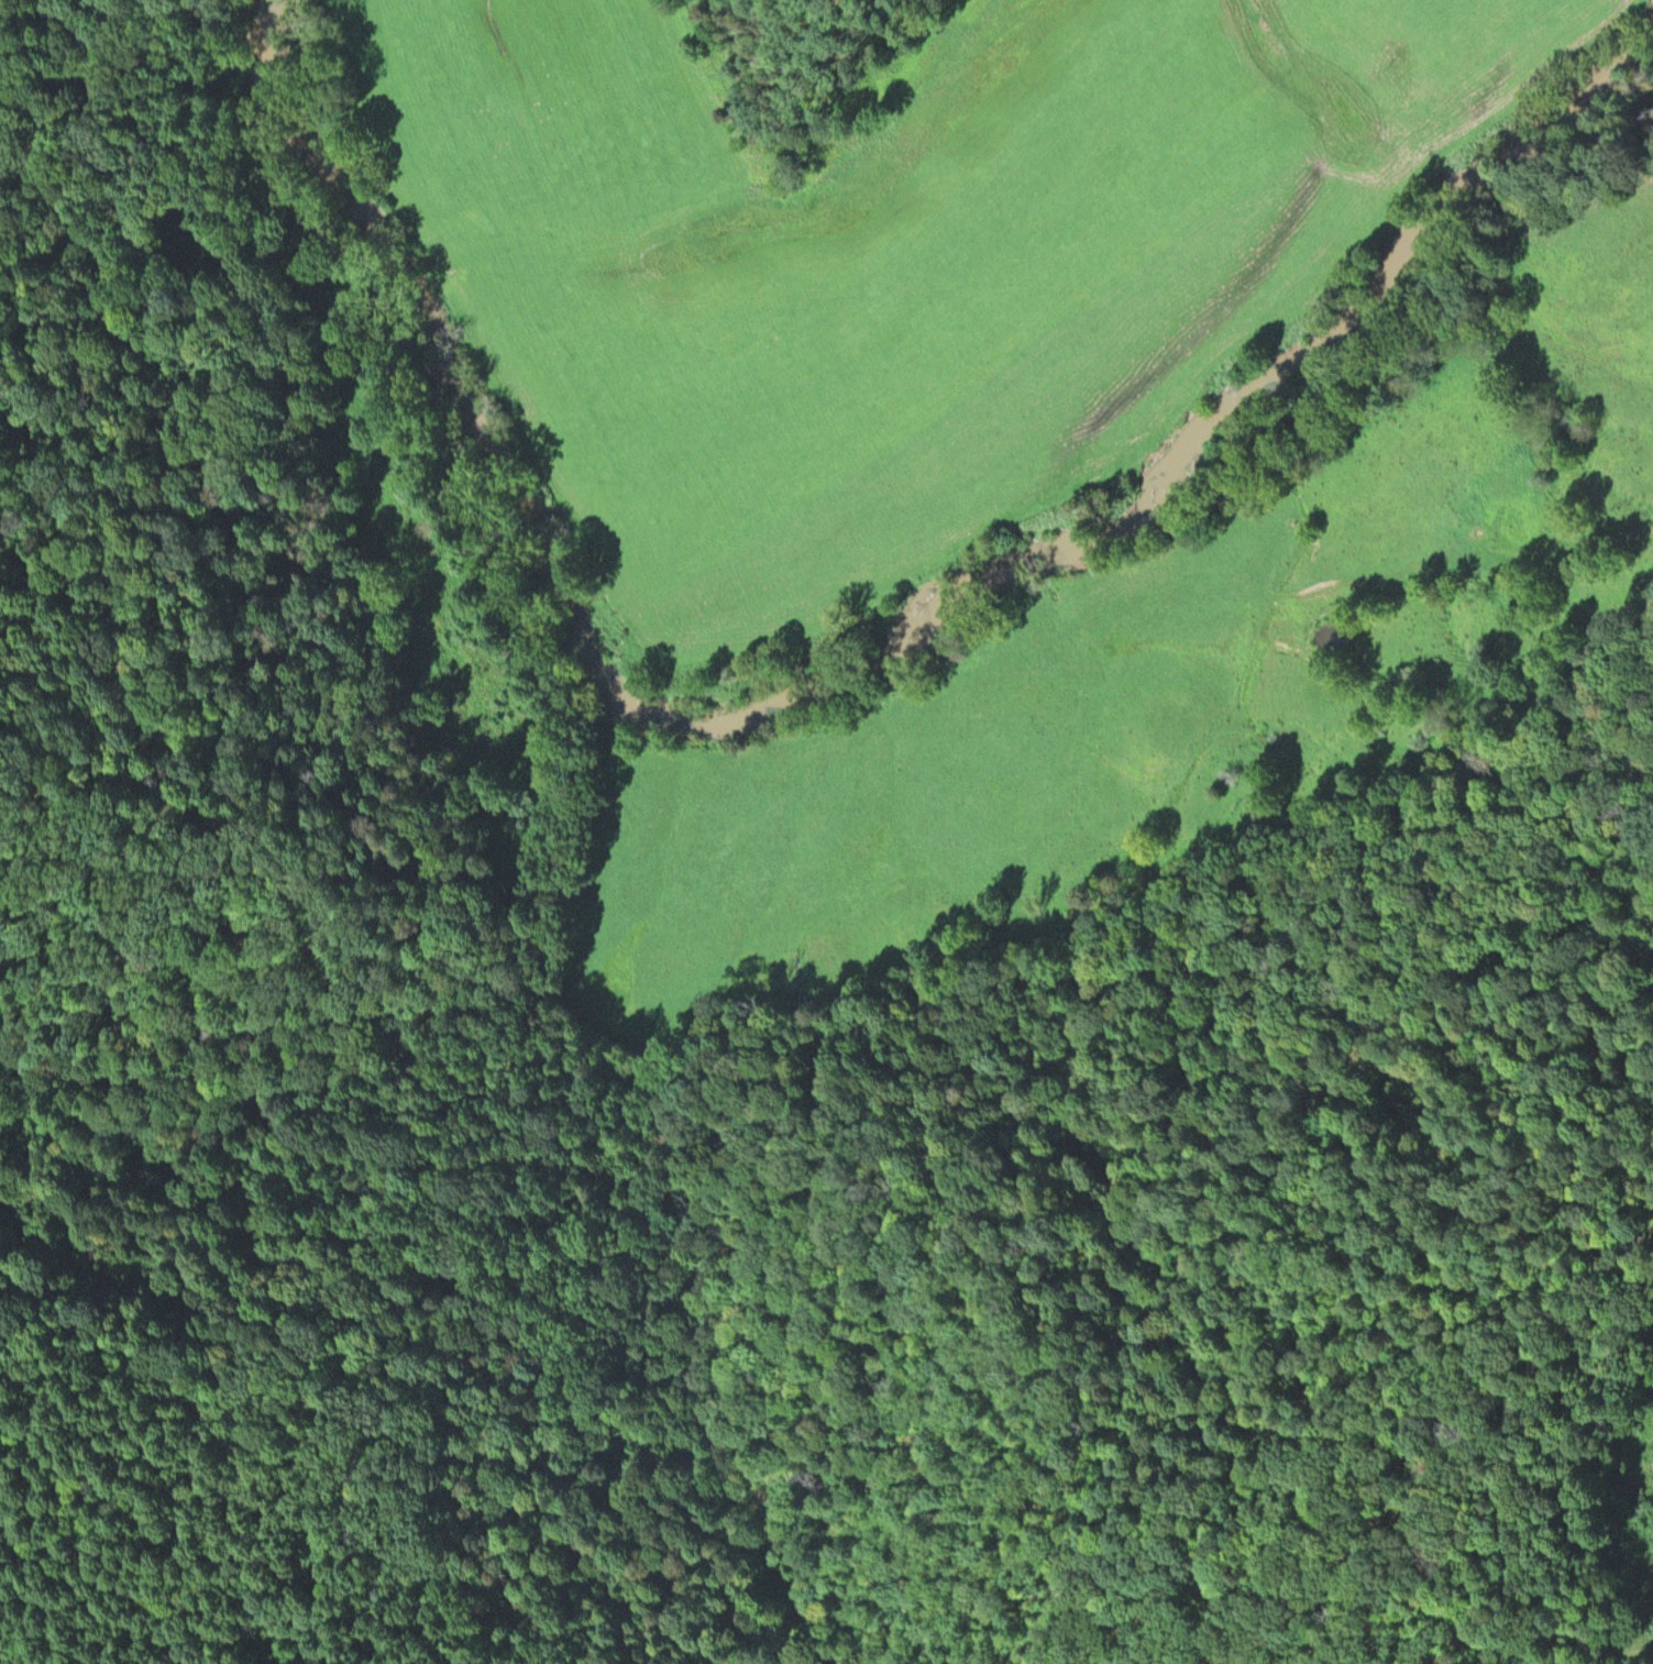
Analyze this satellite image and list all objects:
road: (941, 1)
crop: (905, 263)
road: (1467, 551)
river: (856, 651)
road: (1634, 1545)
road: (1642, 1648)

